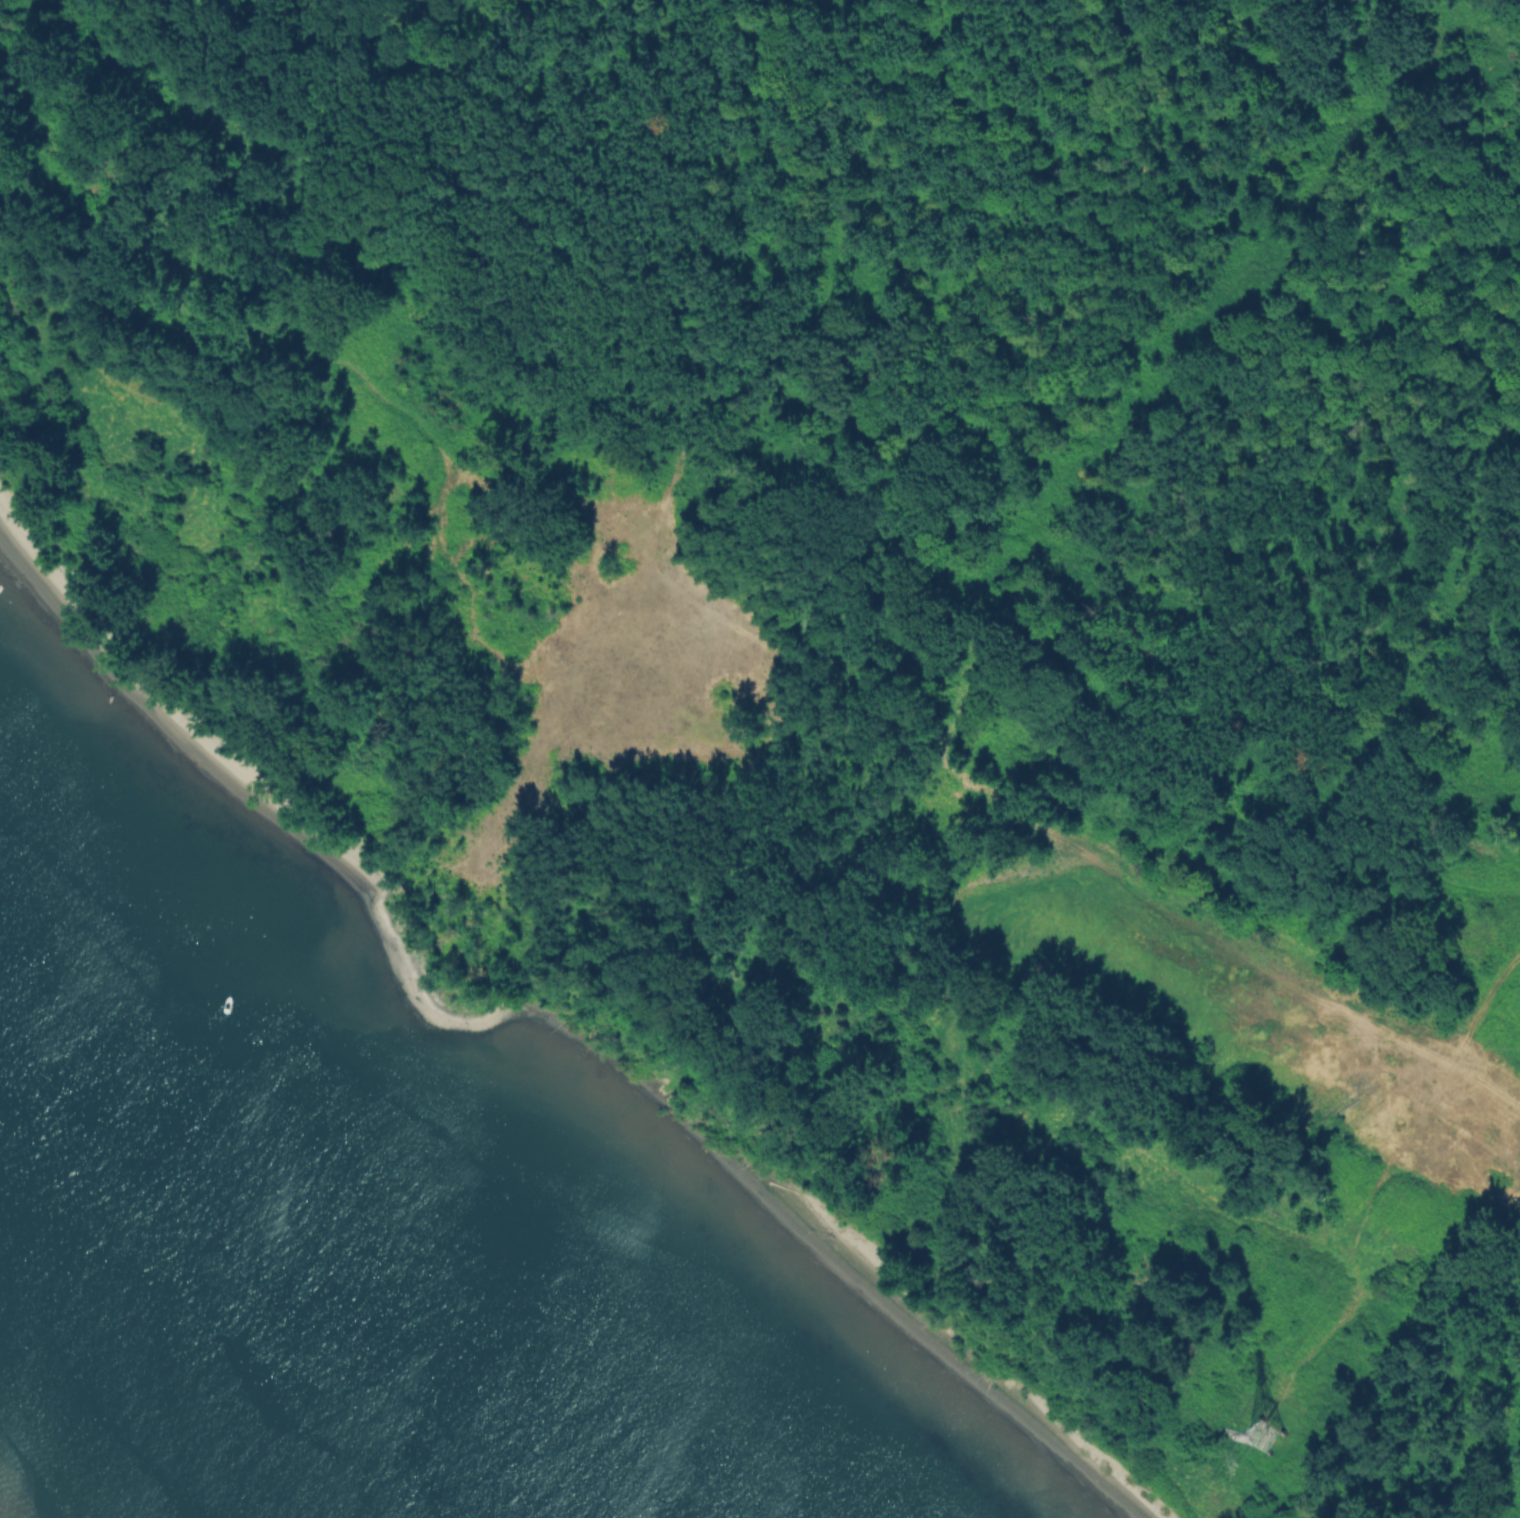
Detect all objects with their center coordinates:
road: (575, 744)
road: (961, 773)
road: (1359, 1248)
river: (258, 1299)
power tower: (1261, 1437)

